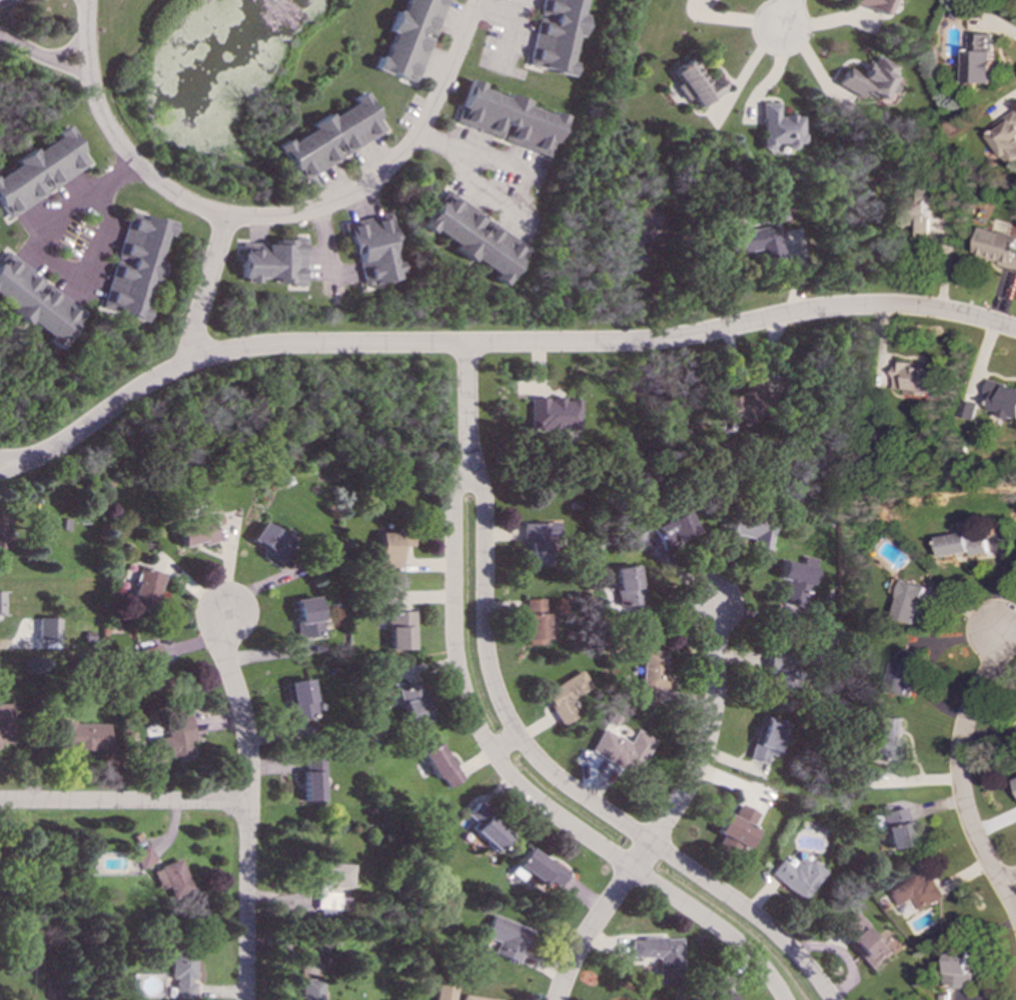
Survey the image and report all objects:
road: (3, 1)
road: (82, 2)
road: (85, 2)
building: (873, 4)
road: (785, 15)
road: (84, 21)
building: (554, 35)
building: (409, 38)
road: (23, 49)
road: (66, 50)
building: (978, 58)
road: (86, 60)
road: (69, 71)
road: (744, 71)
building: (868, 79)
building: (694, 83)
building: (507, 118)
building: (778, 129)
building: (330, 137)
building: (1005, 137)
road: (394, 163)
road: (138, 167)
building: (38, 170)
road: (521, 176)
building: (913, 214)
building: (473, 236)
building: (753, 241)
building: (996, 247)
building: (372, 248)
road: (38, 254)
building: (273, 260)
building: (133, 263)
road: (206, 288)
building: (35, 301)
road: (514, 344)
building: (915, 378)
road: (466, 391)
building: (1001, 399)
building: (739, 401)
building: (551, 413)
road: (17, 457)
road: (18, 467)
building: (671, 529)
building: (750, 529)
building: (0, 530)
building: (195, 532)
building: (535, 540)
building: (269, 541)
building: (960, 545)
building: (388, 547)
building: (794, 582)
building: (625, 585)
building: (144, 587)
building: (908, 602)
building: (0, 603)
building: (305, 616)
building: (378, 620)
building: (532, 620)
building: (46, 628)
building: (399, 629)
road: (1000, 637)
building: (148, 667)
building: (779, 667)
building: (650, 674)
building: (902, 674)
building: (562, 695)
building: (297, 700)
building: (410, 704)
building: (5, 722)
building: (171, 734)
building: (80, 736)
building: (764, 737)
building: (887, 738)
road: (504, 744)
building: (620, 749)
building: (437, 764)
road: (553, 775)
road: (510, 776)
road: (957, 777)
building: (1014, 784)
building: (309, 785)
road: (123, 801)
road: (247, 805)
road: (670, 811)
building: (484, 827)
building: (895, 827)
building: (735, 829)
building: (144, 855)
building: (535, 868)
building: (796, 875)
building: (172, 879)
road: (1008, 883)
building: (333, 884)
building: (915, 891)
building: (506, 937)
building: (863, 941)
building: (658, 955)
building: (957, 968)
building: (310, 969)
building: (182, 973)
building: (310, 988)
building: (445, 991)
building: (722, 996)
building: (477, 997)

